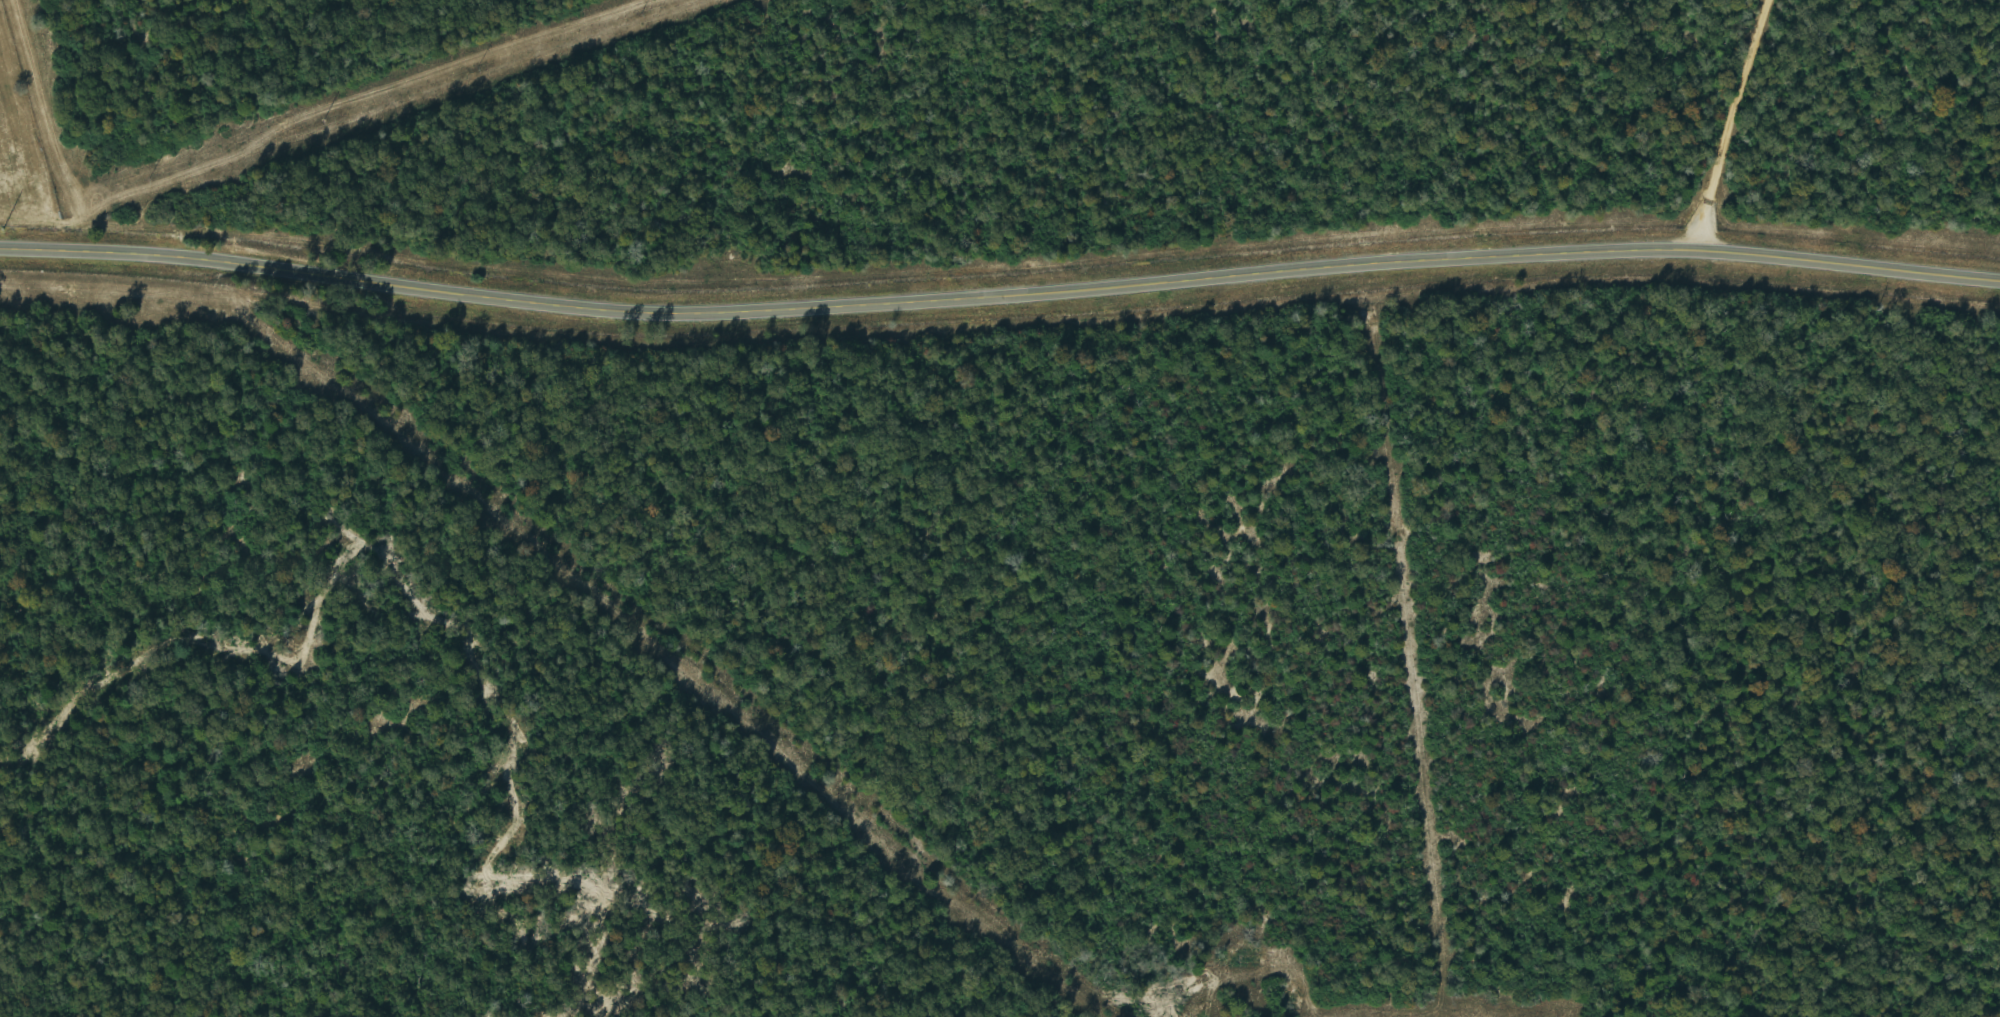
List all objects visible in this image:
road: (1729, 124)
road: (999, 295)

